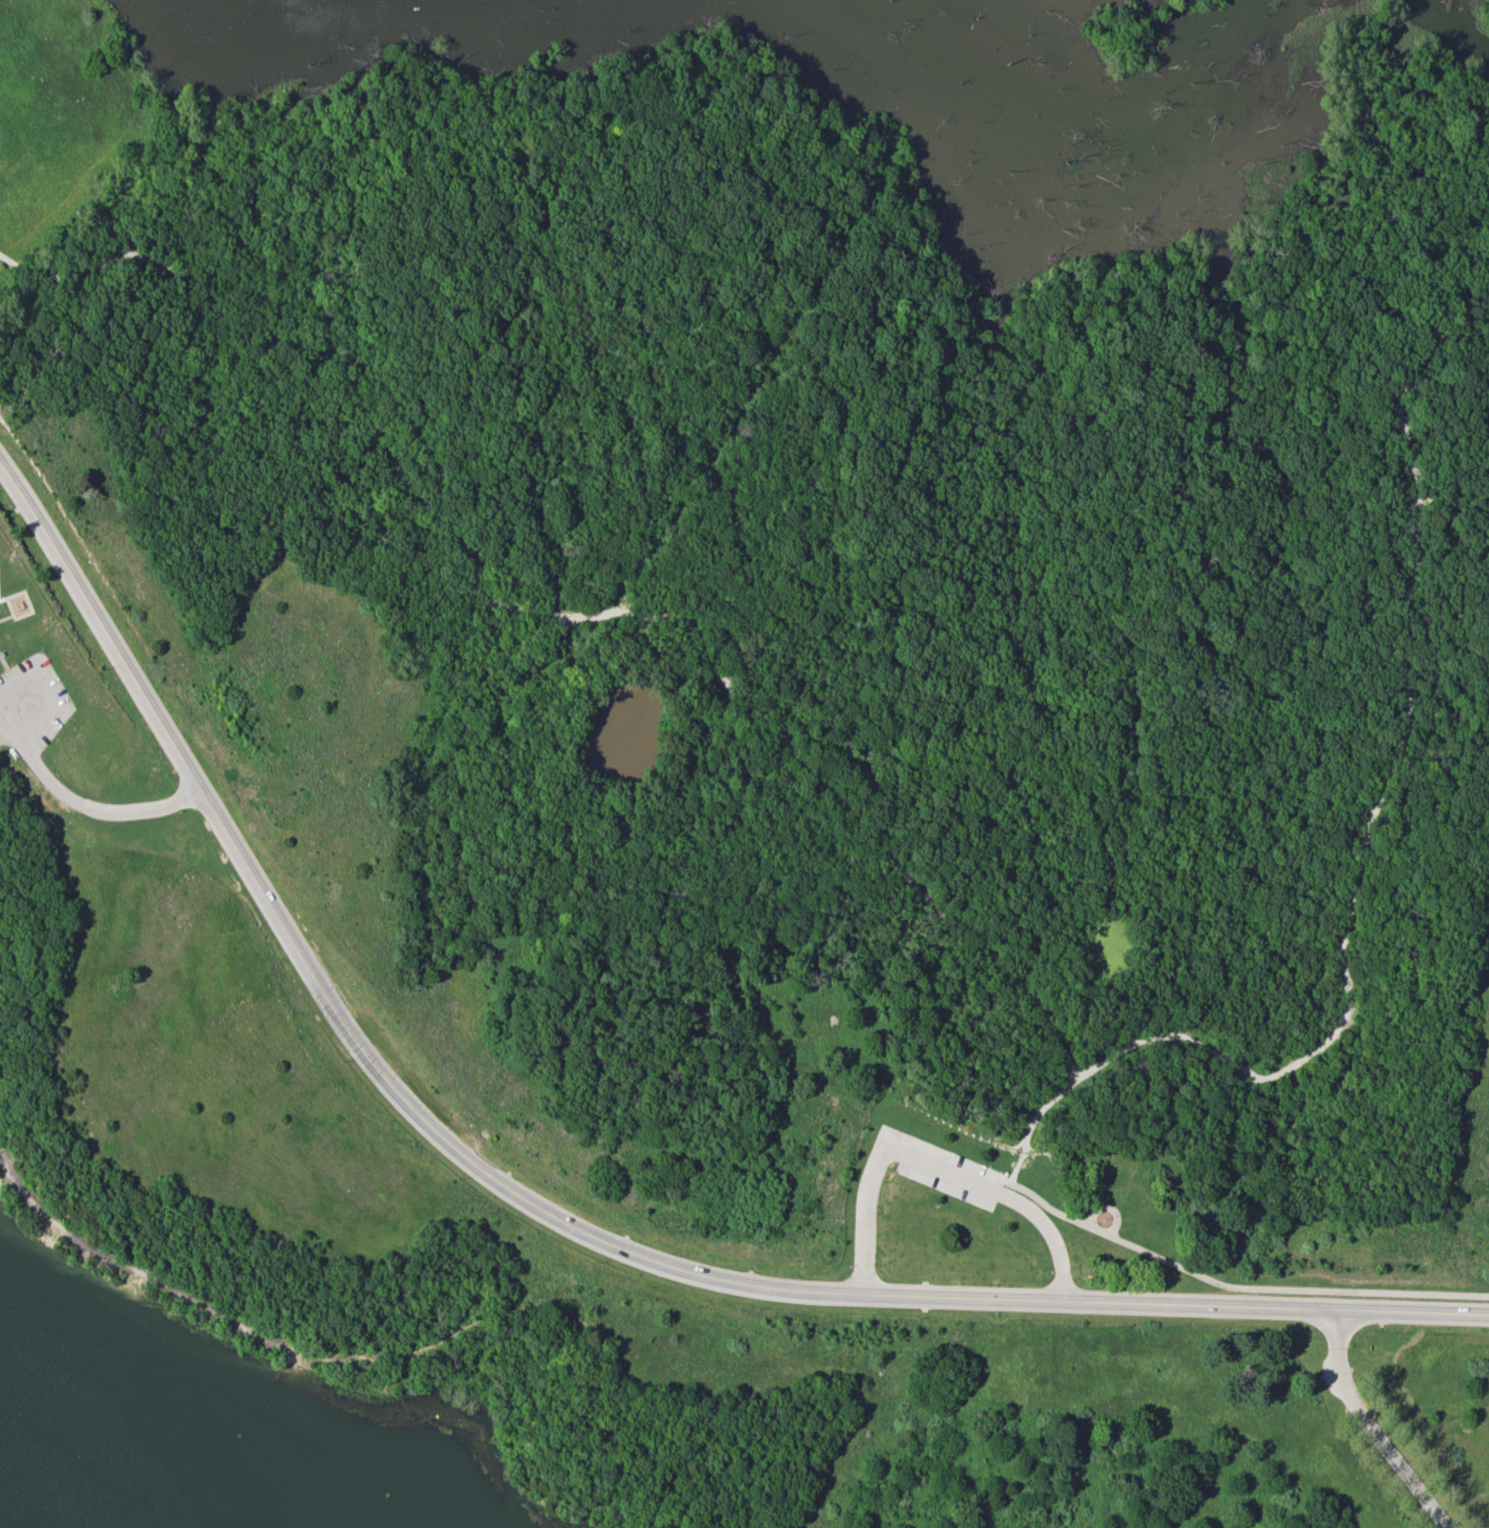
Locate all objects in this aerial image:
road: (710, 456)
road: (555, 615)
road: (4, 618)
road: (4, 661)
parking lot: (31, 706)
park: (744, 764)
road: (1377, 805)
road: (109, 809)
road: (1030, 1134)
road: (934, 1168)
parking lot: (939, 1169)
road: (1014, 1172)
road: (1111, 1207)
flagpole: (1104, 1217)
road: (555, 1219)
road: (1102, 1233)
road: (1237, 1288)
road: (1295, 1290)
park: (1424, 1400)
road: (1366, 1430)

